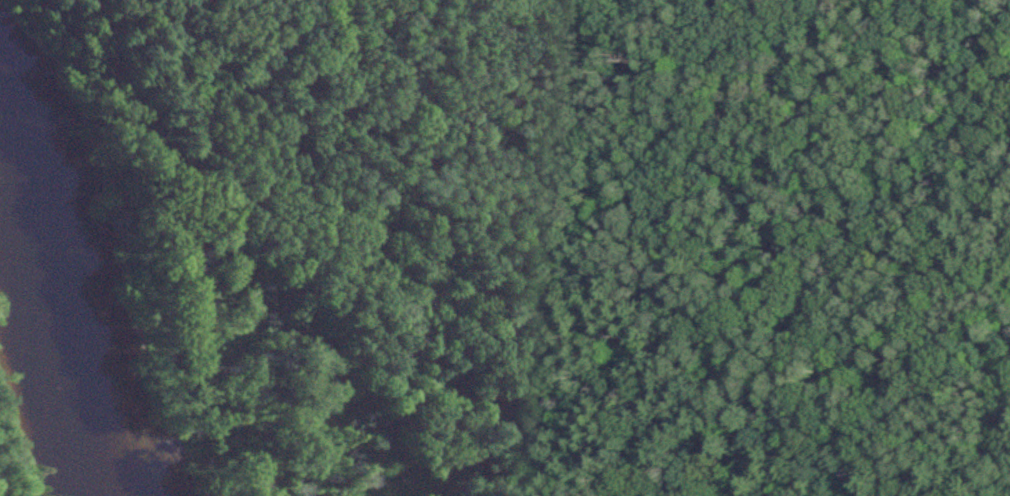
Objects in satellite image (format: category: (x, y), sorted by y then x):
road: (501, 250)
river: (61, 319)

